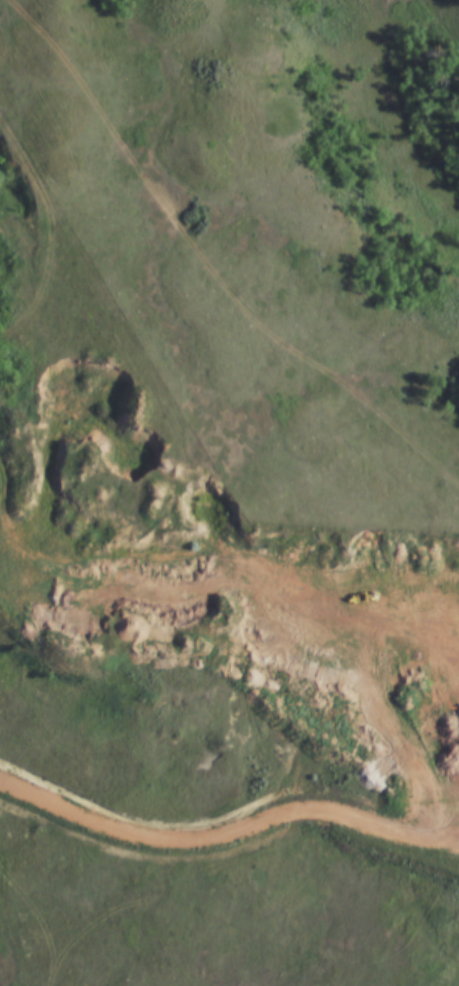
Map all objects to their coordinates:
road: (48, 276)
road: (268, 584)
quarry: (245, 605)
road: (99, 629)

